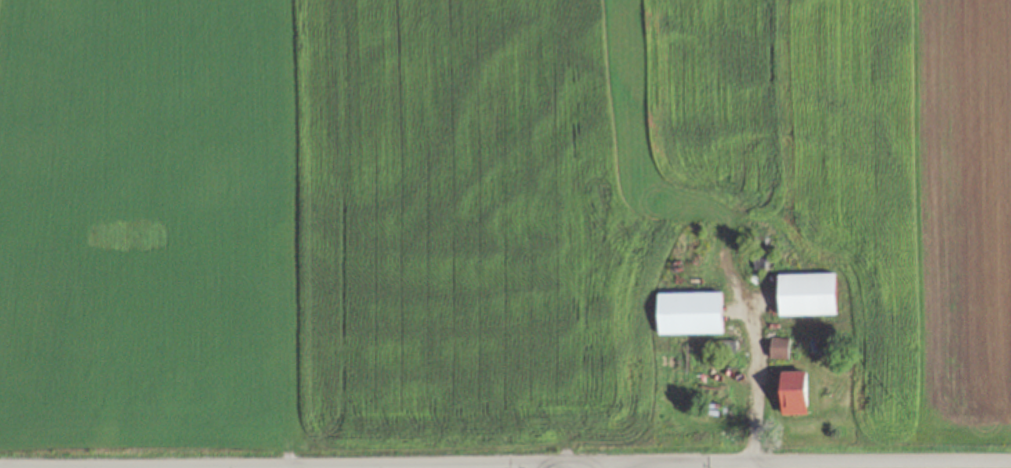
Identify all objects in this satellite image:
building: (805, 295)
building: (688, 313)
building: (777, 348)
building: (792, 392)
road: (838, 461)
road: (165, 466)

